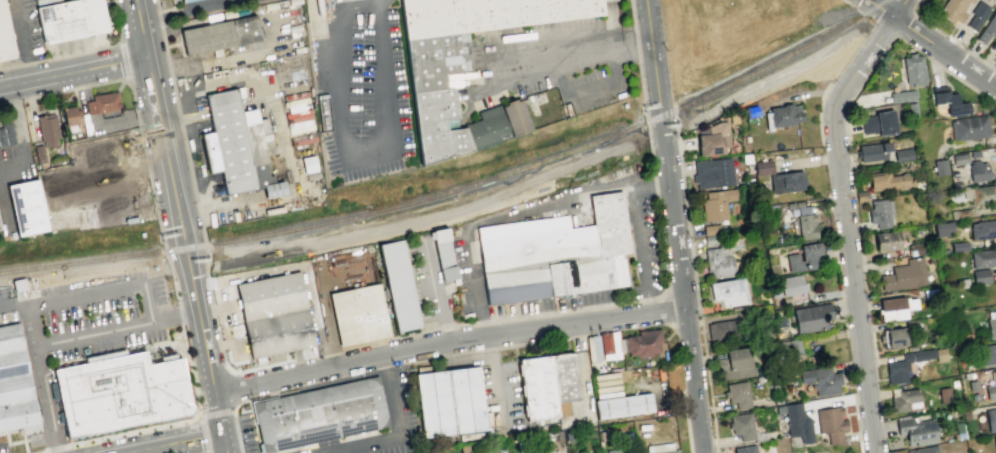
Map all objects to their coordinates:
building: (184, 0)
road: (377, 0)
road: (848, 4)
road: (904, 6)
road: (917, 6)
road: (187, 10)
building: (953, 10)
building: (977, 15)
building: (70, 21)
road: (905, 25)
building: (988, 28)
building: (5, 34)
building: (219, 34)
road: (877, 35)
road: (892, 39)
road: (23, 40)
road: (954, 42)
road: (932, 44)
building: (994, 46)
road: (100, 48)
building: (460, 56)
road: (124, 59)
road: (570, 59)
road: (31, 63)
road: (614, 64)
road: (11, 67)
road: (639, 68)
building: (913, 70)
road: (946, 70)
road: (73, 73)
road: (770, 77)
road: (560, 80)
road: (126, 81)
road: (80, 86)
road: (592, 88)
parking lot: (360, 90)
road: (36, 95)
building: (906, 101)
building: (103, 103)
building: (950, 103)
building: (546, 106)
building: (783, 115)
building: (71, 116)
building: (300, 116)
building: (514, 117)
road: (137, 122)
building: (880, 124)
road: (95, 127)
building: (486, 127)
building: (970, 128)
building: (48, 129)
road: (181, 130)
road: (661, 131)
building: (6, 135)
road: (20, 138)
building: (713, 139)
building: (234, 143)
road: (350, 149)
building: (873, 152)
building: (903, 153)
building: (40, 154)
road: (166, 155)
building: (975, 155)
road: (650, 156)
building: (960, 159)
building: (308, 163)
building: (761, 167)
building: (940, 169)
building: (979, 171)
building: (712, 173)
building: (786, 182)
building: (893, 182)
building: (96, 183)
road: (650, 185)
road: (654, 185)
railway: (458, 189)
building: (984, 194)
road: (152, 195)
building: (863, 196)
road: (559, 201)
building: (710, 204)
building: (25, 207)
road: (2, 208)
building: (880, 214)
road: (439, 215)
road: (844, 215)
road: (672, 226)
building: (805, 227)
building: (942, 228)
building: (709, 229)
building: (982, 230)
building: (709, 240)
building: (887, 241)
road: (661, 247)
building: (959, 247)
building: (916, 250)
building: (555, 253)
building: (983, 258)
building: (801, 259)
road: (213, 260)
building: (444, 261)
road: (187, 263)
building: (716, 263)
road: (300, 264)
road: (84, 269)
road: (205, 269)
building: (906, 275)
building: (981, 277)
road: (206, 282)
road: (173, 284)
building: (399, 288)
road: (438, 289)
building: (793, 289)
road: (696, 290)
building: (725, 293)
road: (209, 295)
building: (270, 296)
road: (648, 298)
road: (4, 303)
road: (147, 303)
parking lot: (6, 306)
road: (214, 307)
road: (212, 308)
building: (894, 309)
road: (563, 310)
building: (358, 313)
road: (178, 314)
road: (174, 315)
parking lot: (94, 316)
building: (810, 318)
road: (480, 320)
road: (464, 323)
building: (991, 323)
road: (446, 325)
road: (216, 327)
building: (721, 330)
building: (278, 333)
building: (895, 338)
road: (382, 339)
road: (447, 340)
road: (222, 343)
building: (642, 343)
road: (220, 344)
building: (610, 345)
building: (593, 348)
building: (794, 348)
road: (321, 353)
building: (987, 355)
road: (222, 359)
road: (271, 363)
building: (732, 366)
road: (37, 372)
building: (897, 373)
building: (969, 376)
building: (564, 379)
road: (212, 381)
building: (818, 381)
building: (954, 384)
building: (15, 386)
building: (973, 386)
road: (231, 388)
building: (991, 389)
building: (537, 390)
building: (119, 395)
building: (736, 395)
building: (945, 396)
building: (906, 401)
building: (449, 404)
building: (624, 406)
road: (215, 412)
building: (318, 414)
building: (792, 419)
building: (991, 419)
road: (162, 425)
building: (829, 425)
building: (740, 427)
building: (917, 430)
road: (235, 431)
road: (687, 431)
road: (202, 433)
road: (401, 433)
building: (995, 440)
road: (170, 441)
building: (660, 448)
building: (743, 449)
building: (617, 450)
building: (925, 450)

